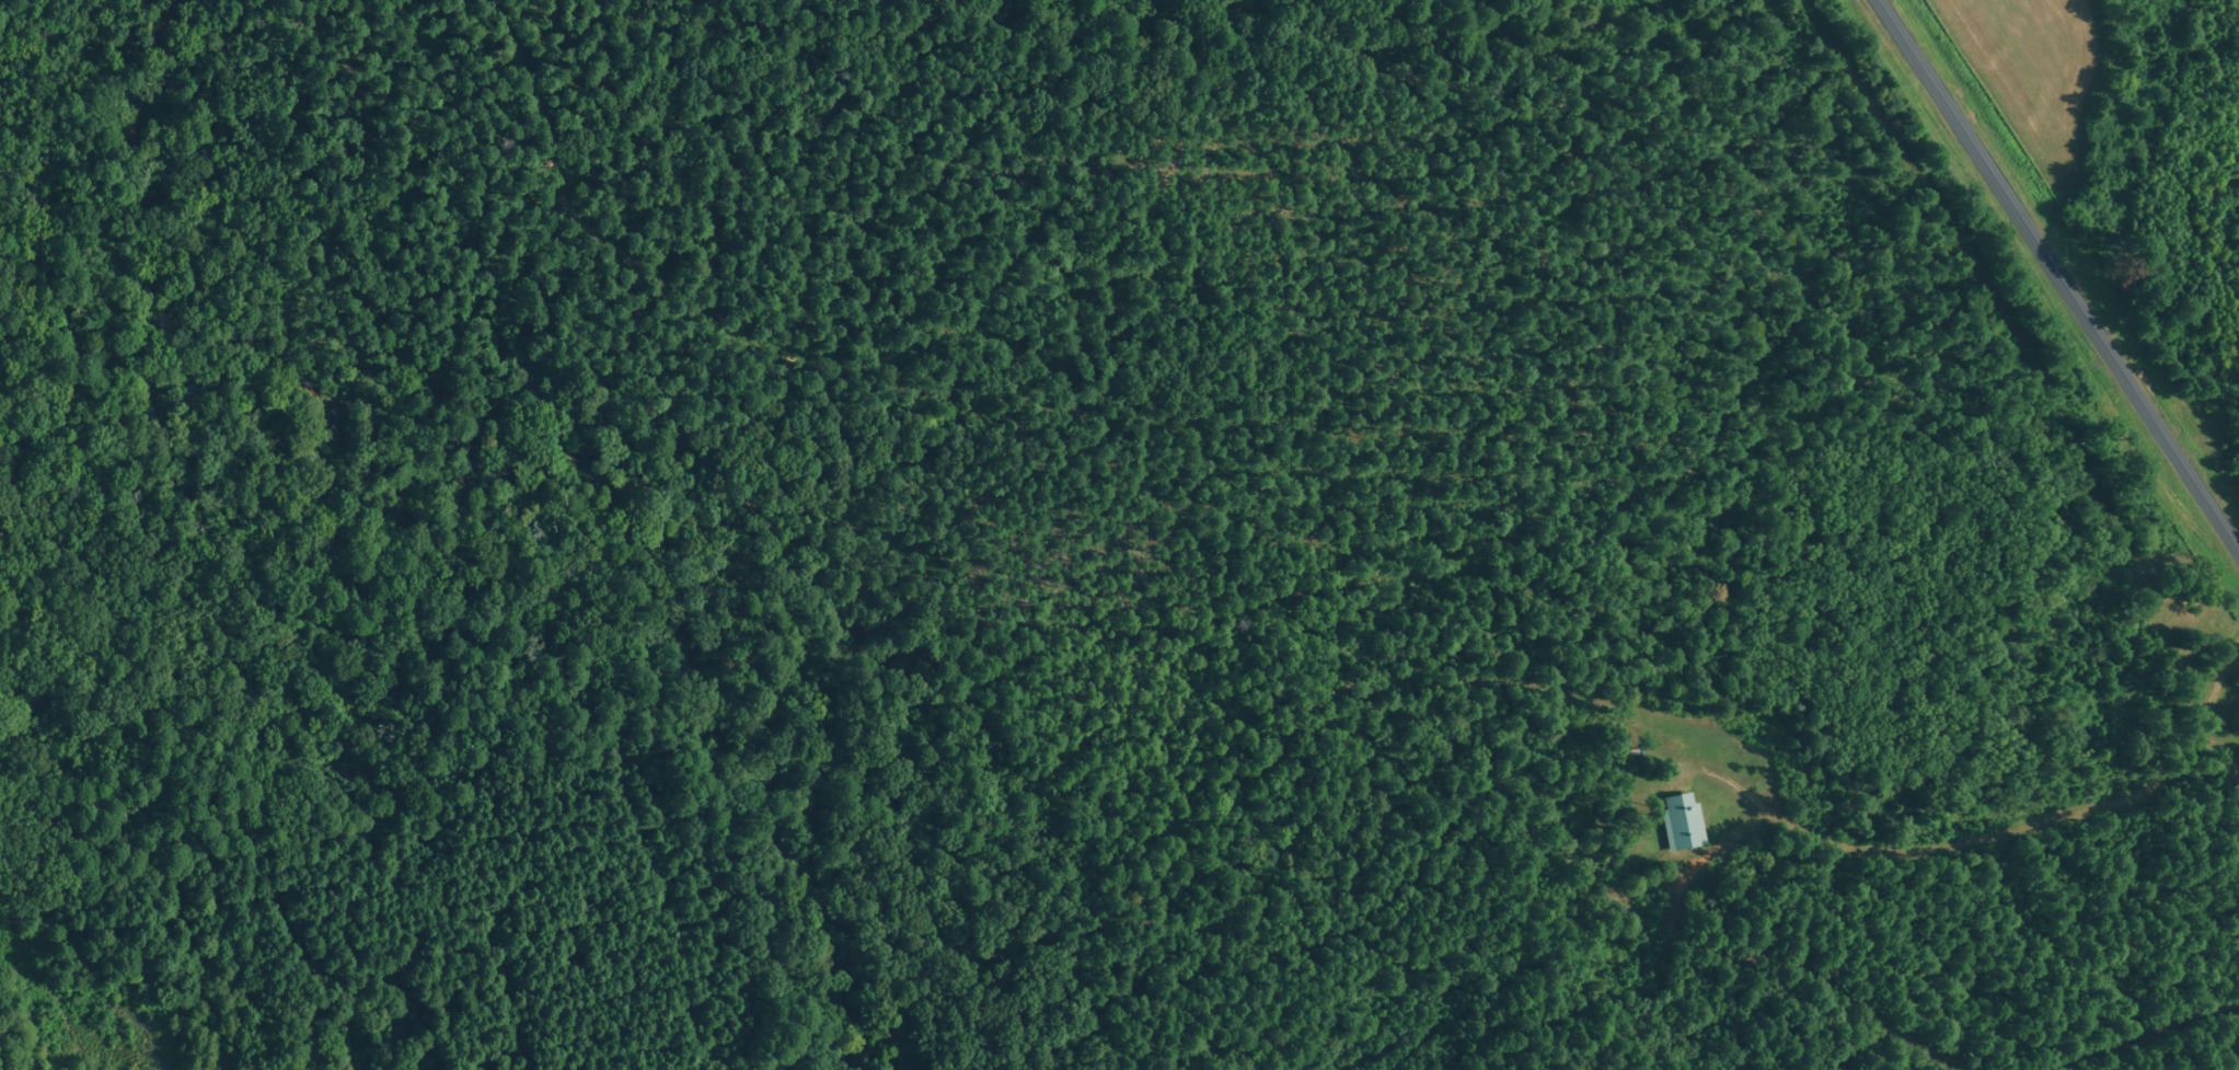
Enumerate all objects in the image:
road: (2056, 277)
building: (1685, 824)

